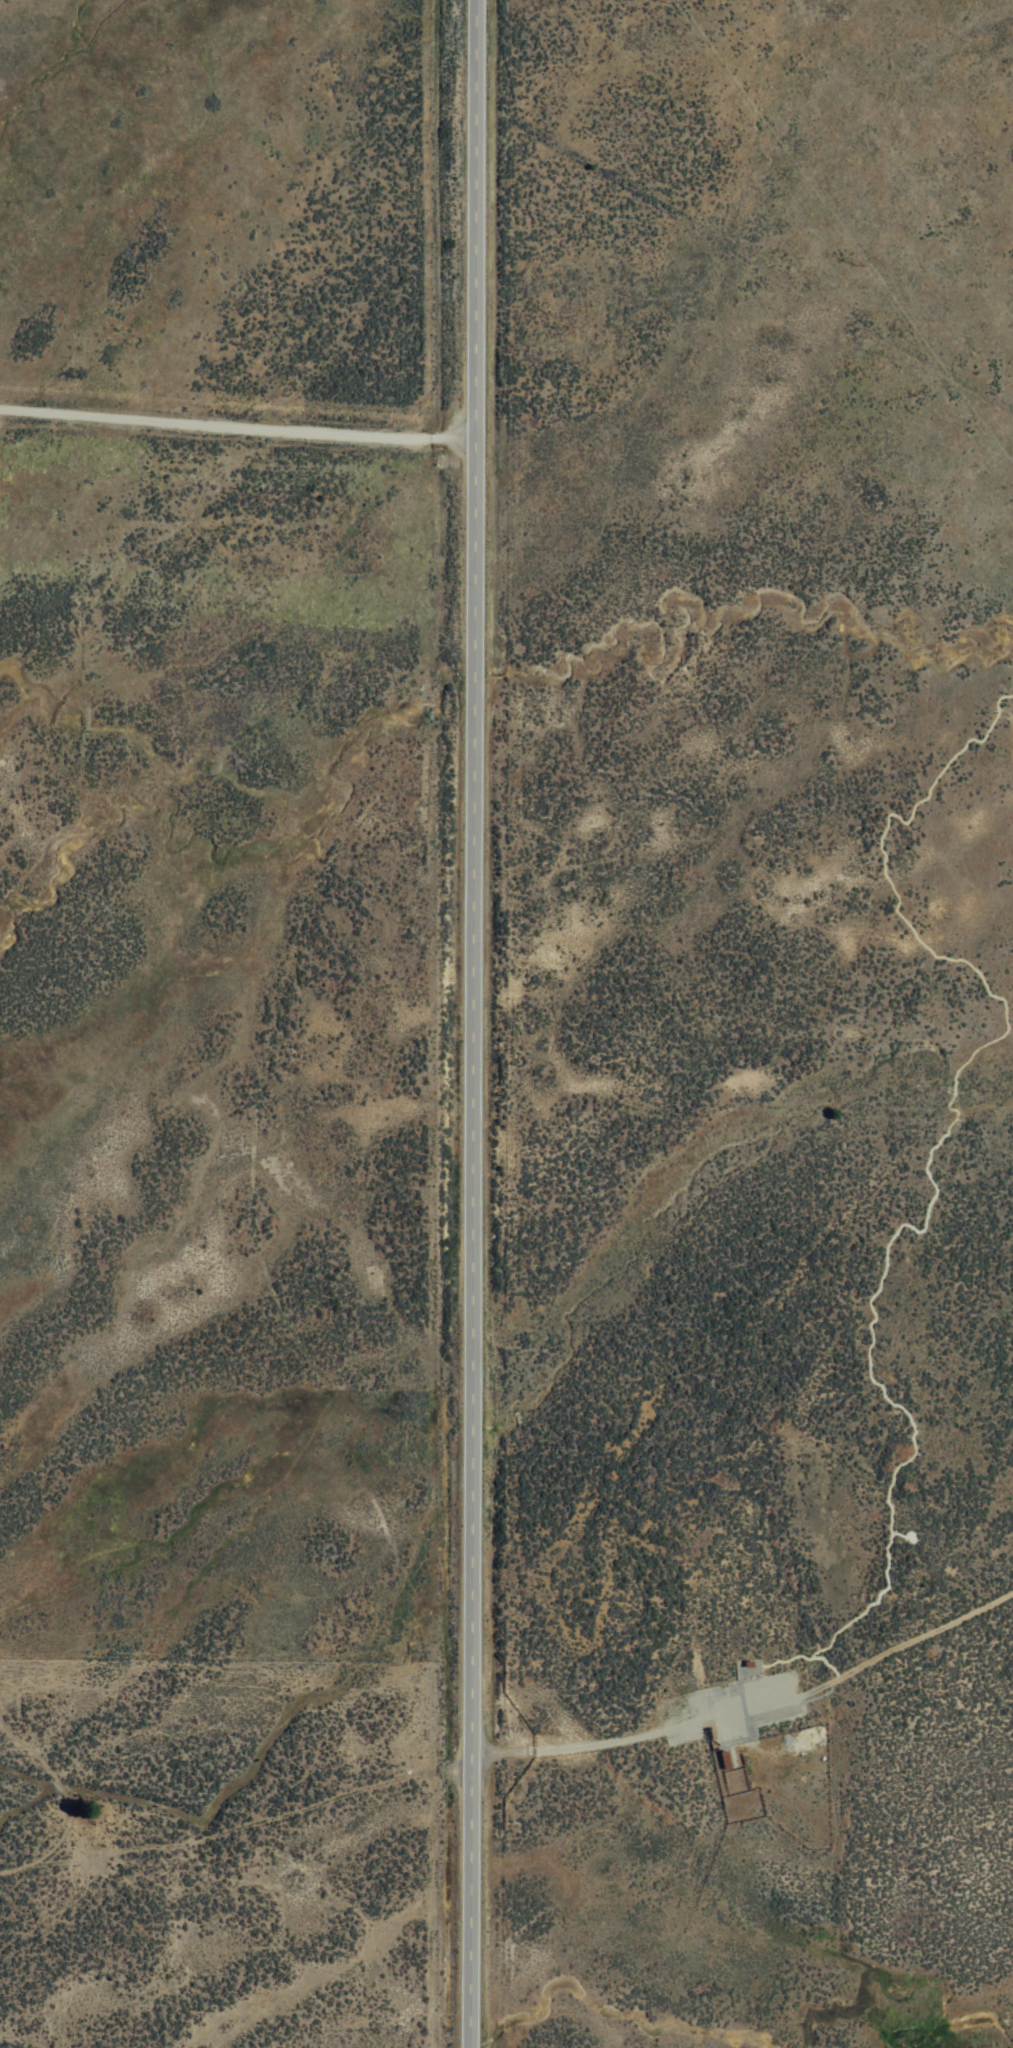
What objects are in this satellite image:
road: (242, 426)
road: (470, 1024)
crop: (506, 1024)
parking lot: (684, 1704)
road: (741, 1711)
road: (236, 1826)

